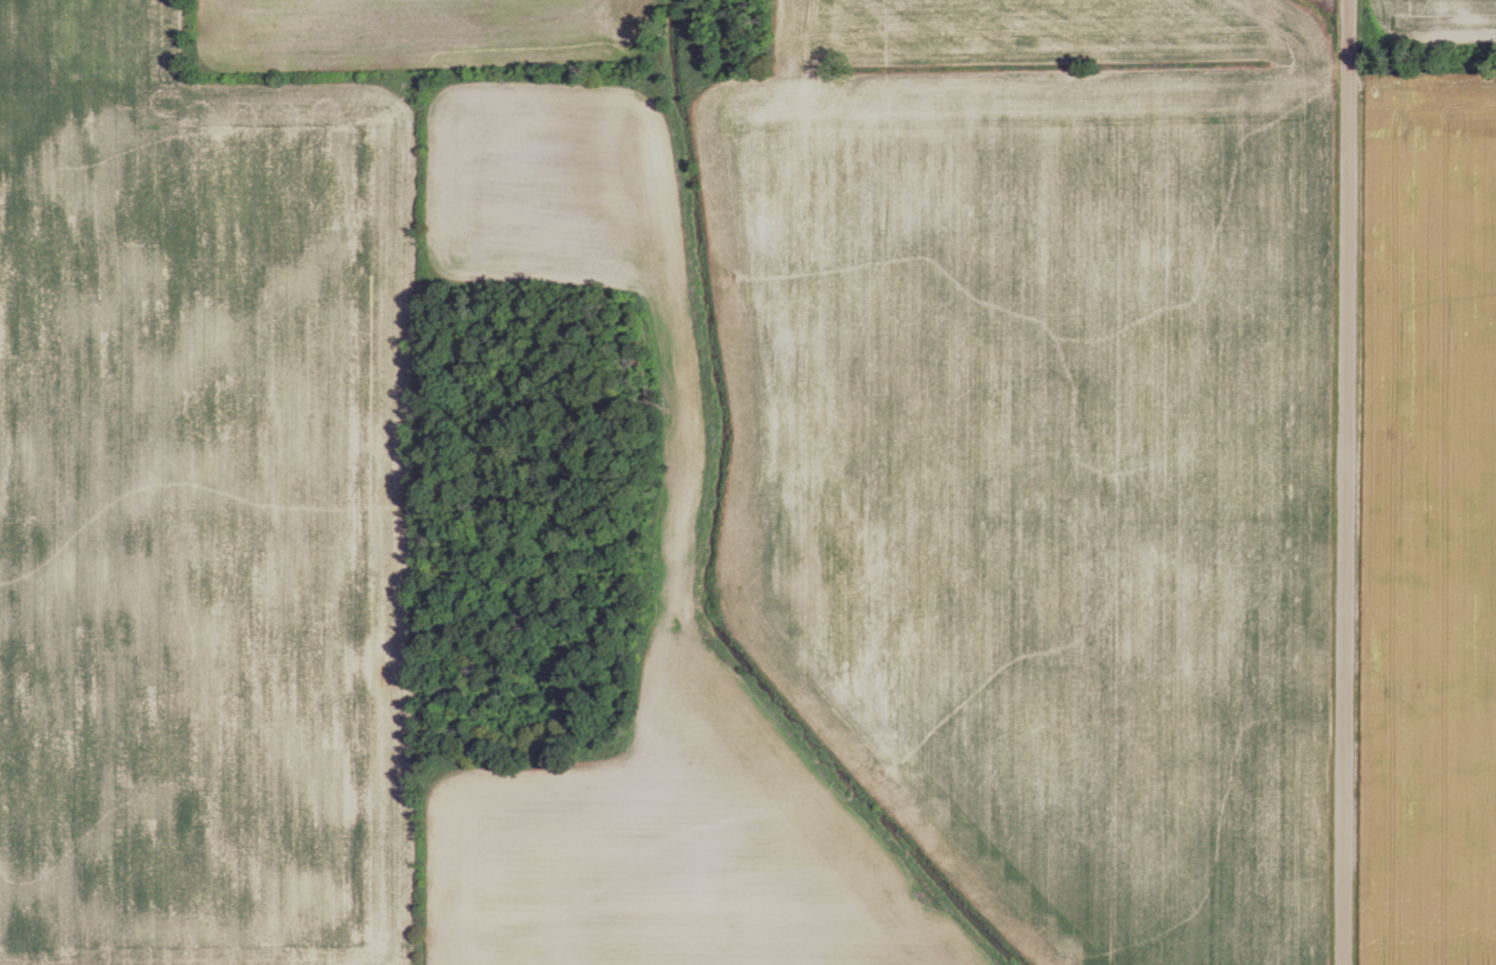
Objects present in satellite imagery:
road: (1343, 482)

